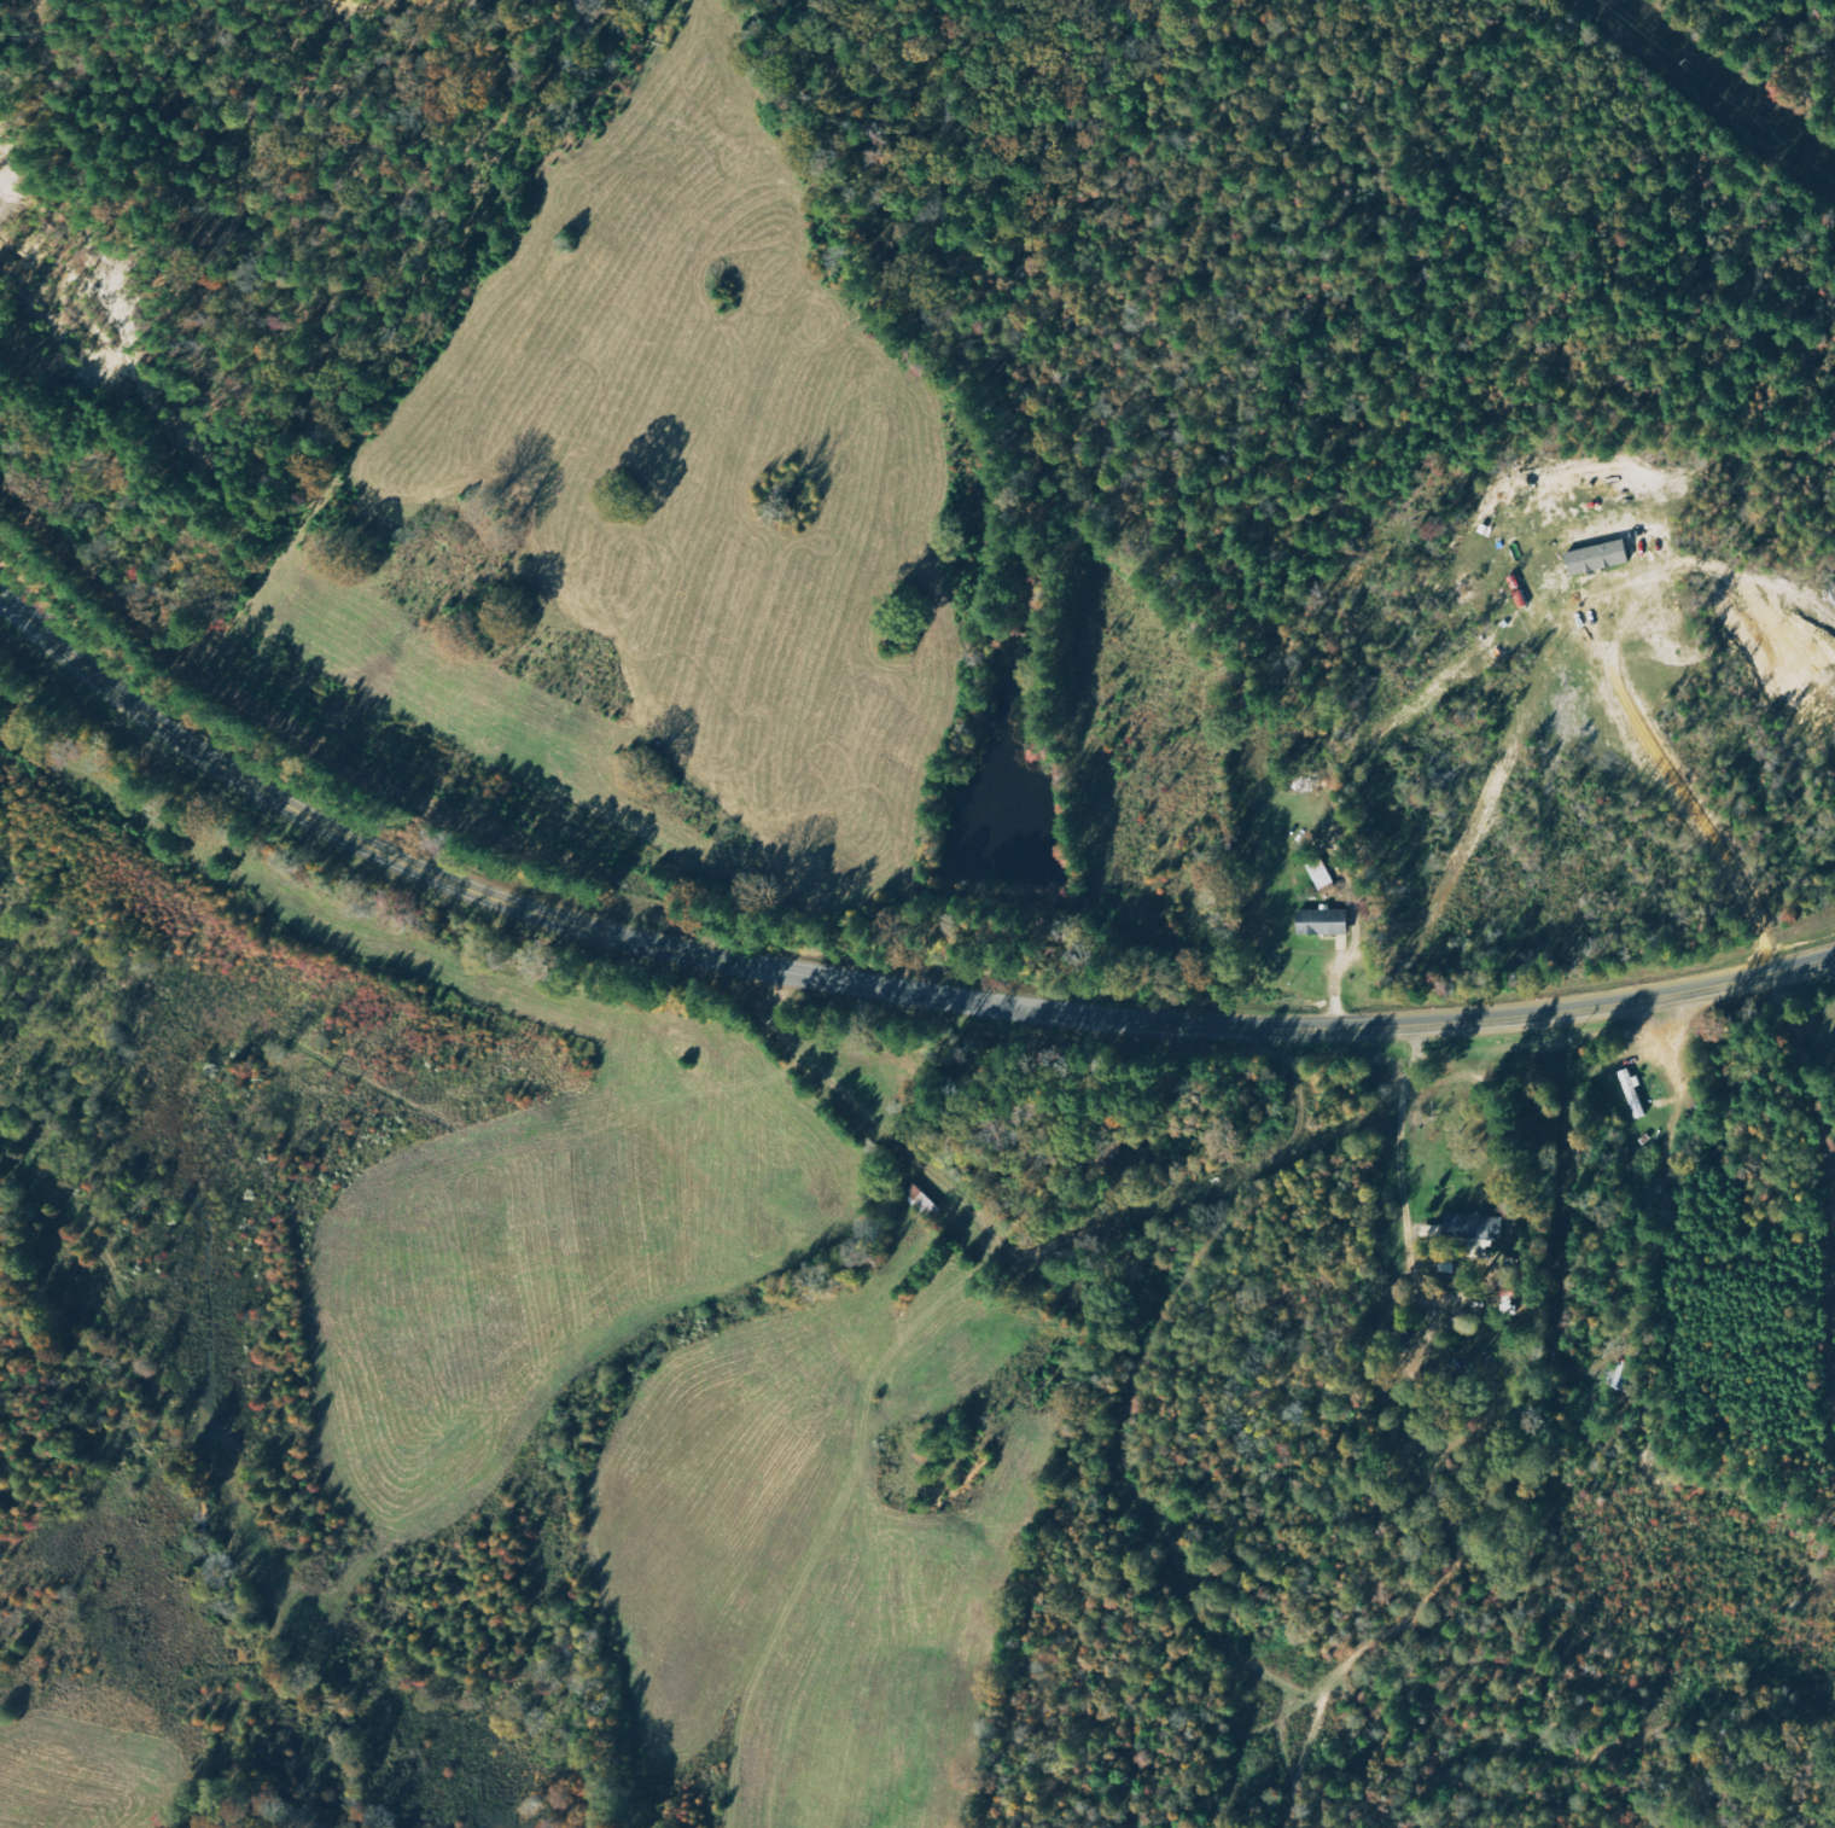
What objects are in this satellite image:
building: (1322, 875)
building: (1326, 922)
road: (869, 983)
building: (1464, 1232)

